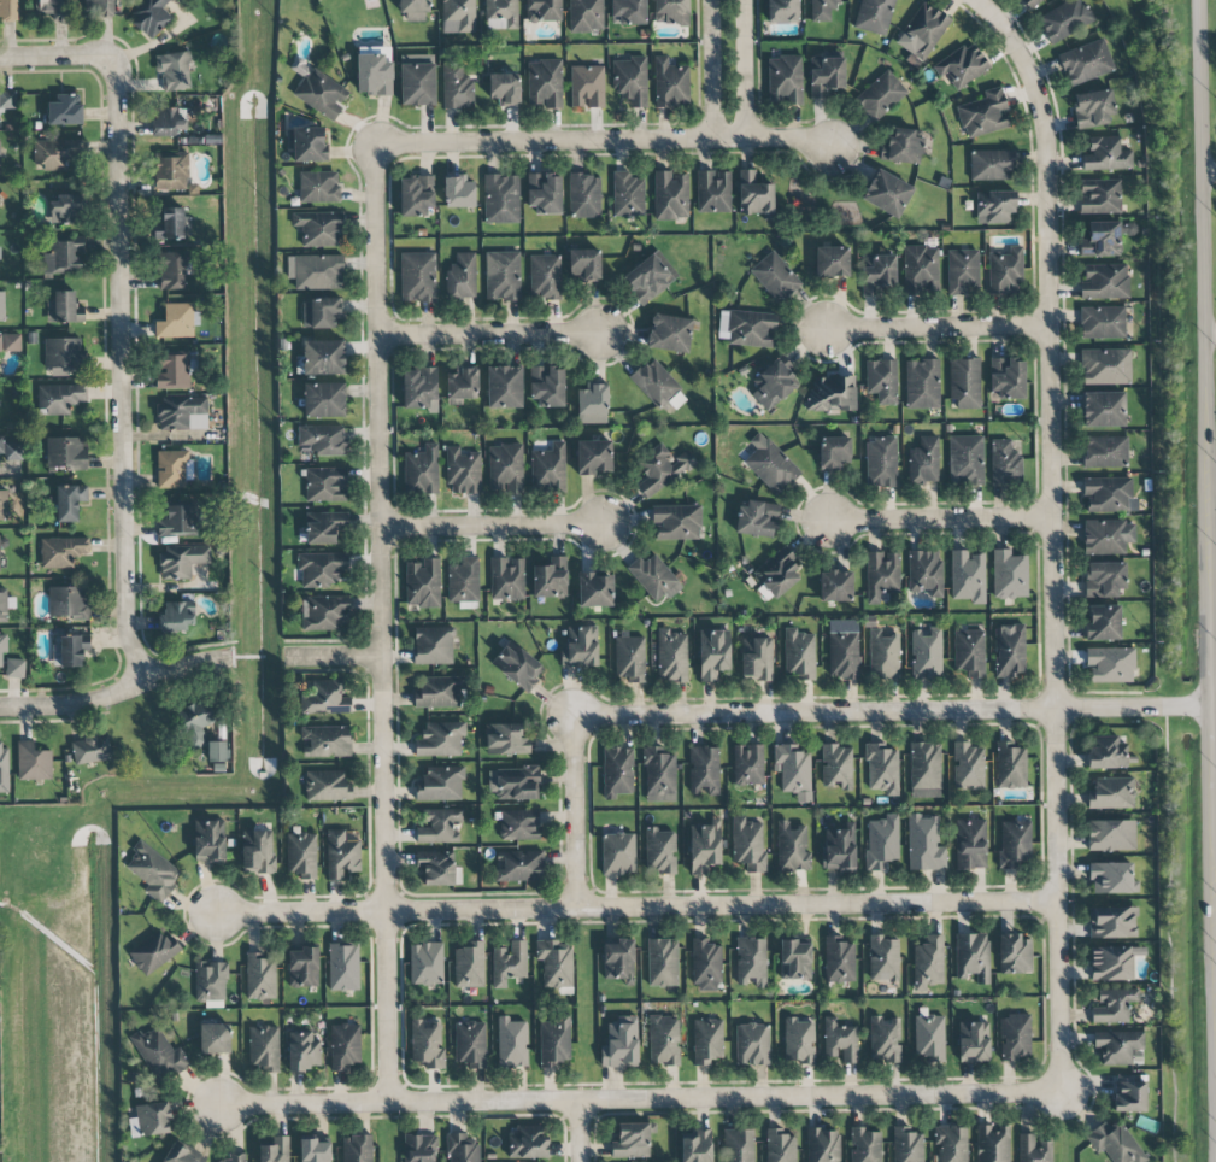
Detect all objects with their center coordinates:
building: (1032, 2)
road: (992, 7)
building: (99, 8)
building: (7, 10)
building: (53, 10)
building: (415, 10)
building: (822, 10)
building: (542, 11)
building: (629, 11)
building: (782, 11)
building: (670, 12)
building: (500, 14)
building: (458, 16)
building: (586, 16)
building: (874, 16)
building: (149, 17)
building: (1064, 20)
building: (922, 31)
building: (1085, 63)
building: (962, 66)
road: (59, 69)
road: (713, 69)
road: (744, 69)
building: (174, 71)
building: (826, 75)
building: (416, 80)
building: (785, 80)
building: (630, 82)
building: (544, 83)
building: (670, 84)
building: (457, 87)
building: (586, 87)
building: (504, 88)
building: (321, 92)
building: (880, 95)
building: (7, 106)
building: (1092, 108)
building: (64, 110)
building: (983, 113)
building: (169, 121)
road: (604, 140)
building: (309, 145)
building: (901, 147)
building: (55, 153)
building: (1106, 155)
building: (991, 165)
road: (1211, 170)
building: (170, 172)
building: (318, 187)
building: (712, 192)
building: (458, 193)
building: (544, 193)
building: (886, 193)
building: (753, 194)
building: (416, 195)
building: (628, 195)
building: (670, 195)
building: (584, 196)
building: (1099, 196)
building: (501, 199)
building: (994, 207)
building: (64, 210)
building: (171, 224)
building: (319, 229)
building: (1100, 240)
building: (64, 258)
building: (832, 262)
building: (583, 264)
building: (921, 269)
building: (172, 270)
building: (316, 271)
building: (962, 271)
building: (1004, 271)
building: (876, 272)
building: (460, 276)
building: (503, 276)
building: (417, 277)
building: (545, 277)
building: (775, 277)
building: (648, 278)
building: (1104, 282)
building: (1, 306)
building: (64, 309)
building: (319, 313)
building: (177, 319)
building: (1102, 322)
road: (938, 327)
building: (747, 328)
building: (670, 333)
road: (489, 335)
road: (1212, 338)
building: (10, 342)
building: (63, 357)
building: (322, 357)
building: (1105, 366)
building: (172, 371)
road: (124, 378)
building: (1006, 378)
building: (882, 381)
building: (922, 383)
building: (964, 383)
building: (773, 385)
building: (462, 386)
building: (547, 386)
building: (658, 386)
building: (504, 387)
building: (419, 389)
building: (832, 394)
building: (59, 398)
building: (324, 400)
building: (592, 404)
building: (1103, 410)
building: (182, 413)
road: (1210, 417)
building: (322, 440)
building: (10, 450)
building: (65, 452)
building: (835, 452)
building: (1105, 452)
building: (593, 457)
building: (965, 460)
building: (880, 462)
building: (923, 462)
building: (1004, 463)
building: (770, 465)
building: (548, 468)
building: (172, 469)
building: (505, 469)
building: (421, 470)
building: (660, 470)
building: (462, 471)
building: (325, 485)
building: (1109, 494)
building: (69, 501)
building: (4, 504)
building: (757, 518)
road: (941, 520)
building: (177, 521)
building: (675, 523)
building: (324, 527)
road: (490, 527)
building: (1108, 536)
road: (1052, 546)
building: (61, 551)
building: (181, 561)
building: (0, 568)
building: (319, 569)
building: (926, 571)
building: (776, 573)
building: (1009, 574)
building: (881, 575)
building: (968, 576)
building: (548, 577)
building: (653, 577)
building: (506, 579)
building: (1104, 579)
building: (463, 582)
building: (422, 583)
building: (835, 586)
building: (595, 589)
building: (67, 603)
building: (5, 605)
building: (324, 614)
building: (177, 617)
road: (382, 623)
building: (1103, 623)
building: (433, 645)
building: (2, 647)
building: (580, 647)
building: (842, 650)
building: (72, 651)
building: (969, 651)
building: (1009, 651)
building: (712, 653)
building: (926, 653)
building: (799, 655)
building: (883, 655)
road: (334, 656)
building: (671, 656)
building: (629, 658)
building: (757, 658)
building: (1110, 664)
building: (517, 665)
building: (14, 668)
building: (439, 693)
road: (116, 696)
building: (325, 699)
road: (894, 711)
building: (195, 722)
building: (440, 739)
building: (505, 740)
building: (327, 741)
building: (90, 750)
building: (1106, 752)
building: (216, 753)
building: (33, 762)
building: (747, 764)
building: (1010, 765)
building: (836, 767)
building: (968, 767)
building: (2, 768)
building: (882, 769)
building: (704, 770)
building: (793, 770)
building: (924, 770)
building: (617, 771)
building: (658, 775)
building: (440, 784)
building: (513, 784)
building: (325, 786)
building: (1111, 793)
road: (576, 811)
building: (518, 824)
building: (440, 827)
building: (1111, 835)
building: (207, 841)
building: (882, 843)
building: (747, 844)
building: (924, 844)
building: (970, 844)
building: (1014, 844)
building: (704, 846)
building: (791, 847)
building: (838, 850)
building: (659, 851)
building: (257, 852)
building: (618, 853)
building: (301, 855)
building: (340, 855)
building: (519, 865)
building: (439, 868)
building: (152, 870)
building: (1111, 878)
road: (635, 906)
building: (1112, 922)
building: (153, 952)
building: (1014, 955)
building: (973, 957)
building: (882, 958)
building: (618, 961)
building: (794, 961)
building: (838, 961)
building: (751, 962)
building: (928, 962)
building: (425, 963)
building: (509, 963)
building: (556, 963)
building: (662, 963)
building: (1110, 963)
building: (469, 966)
building: (705, 966)
building: (302, 967)
building: (342, 967)
building: (260, 976)
building: (211, 984)
building: (1112, 1005)
building: (1015, 1037)
building: (929, 1038)
building: (215, 1039)
building: (885, 1039)
building: (663, 1040)
building: (706, 1040)
building: (553, 1041)
building: (799, 1041)
building: (839, 1041)
building: (973, 1041)
building: (427, 1044)
building: (511, 1044)
building: (619, 1044)
building: (752, 1044)
building: (470, 1045)
building: (345, 1046)
building: (1120, 1047)
building: (264, 1050)
building: (304, 1050)
building: (159, 1054)
building: (1129, 1093)
road: (640, 1099)
building: (149, 1120)
road: (580, 1131)
building: (632, 1142)
building: (525, 1143)
building: (951, 1144)
building: (992, 1144)
building: (1115, 1144)
building: (738, 1145)
building: (822, 1145)
building: (864, 1145)
building: (907, 1145)
building: (695, 1146)
building: (780, 1146)
building: (419, 1148)
building: (462, 1148)
building: (357, 1149)
building: (1033, 1149)
building: (275, 1150)
building: (315, 1151)
building: (180, 1155)
building: (235, 1157)

